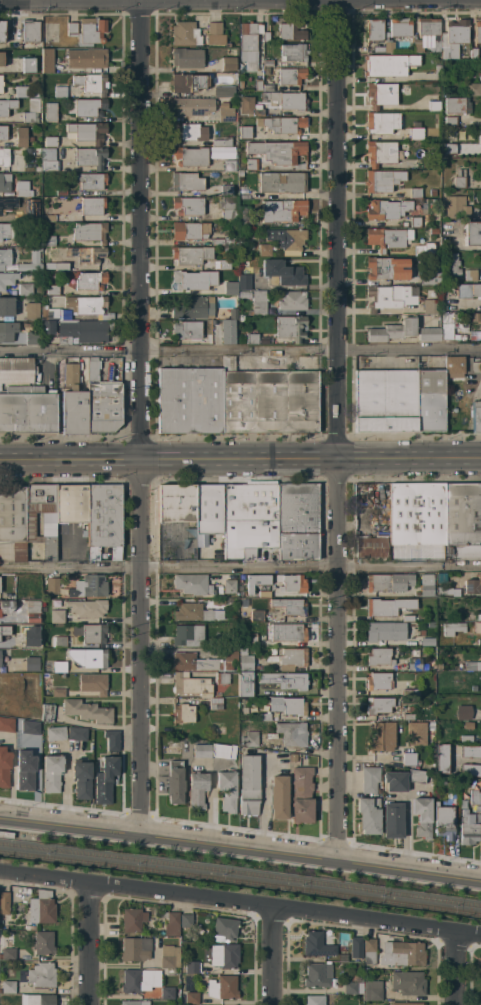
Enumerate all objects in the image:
road: (167, 0)
building: (400, 27)
building: (72, 29)
building: (374, 30)
building: (2, 31)
building: (31, 31)
building: (289, 31)
building: (431, 31)
building: (478, 31)
building: (91, 32)
building: (186, 33)
building: (216, 34)
building: (266, 35)
building: (13, 36)
building: (454, 37)
building: (249, 45)
building: (389, 47)
building: (417, 47)
building: (293, 52)
building: (87, 58)
building: (2, 59)
building: (187, 59)
building: (47, 61)
building: (229, 63)
building: (267, 63)
building: (28, 64)
building: (390, 64)
building: (438, 66)
building: (291, 75)
building: (44, 77)
building: (189, 82)
building: (1, 83)
building: (96, 83)
building: (259, 85)
building: (268, 88)
building: (473, 89)
building: (21, 91)
building: (60, 91)
building: (224, 91)
building: (381, 94)
building: (266, 96)
building: (290, 100)
building: (457, 105)
building: (7, 106)
building: (192, 106)
building: (250, 106)
building: (434, 106)
building: (87, 107)
building: (32, 111)
building: (51, 111)
building: (226, 114)
building: (451, 121)
building: (379, 123)
building: (283, 124)
building: (3, 132)
building: (86, 132)
building: (193, 132)
building: (245, 132)
building: (416, 133)
building: (21, 137)
building: (31, 138)
building: (51, 141)
building: (227, 141)
building: (218, 143)
building: (280, 152)
building: (467, 152)
building: (382, 153)
building: (191, 156)
building: (4, 157)
building: (90, 157)
building: (216, 159)
building: (49, 160)
building: (252, 164)
building: (229, 165)
building: (480, 170)
building: (241, 173)
building: (460, 179)
building: (90, 180)
building: (383, 180)
building: (186, 181)
building: (5, 182)
building: (282, 182)
building: (22, 188)
building: (227, 189)
building: (62, 192)
building: (433, 192)
building: (415, 193)
building: (21, 200)
building: (92, 205)
building: (188, 205)
building: (228, 207)
building: (457, 207)
building: (387, 209)
building: (282, 210)
building: (21, 215)
building: (244, 217)
building: (48, 218)
building: (415, 222)
building: (7, 230)
building: (190, 230)
building: (90, 231)
building: (435, 233)
building: (472, 233)
building: (385, 238)
building: (49, 240)
building: (287, 240)
building: (22, 241)
building: (221, 241)
building: (265, 249)
building: (423, 249)
building: (87, 254)
building: (190, 255)
building: (34, 256)
building: (4, 257)
building: (222, 264)
building: (451, 264)
building: (61, 266)
building: (23, 267)
building: (387, 268)
building: (284, 272)
building: (431, 275)
building: (470, 275)
building: (7, 279)
building: (91, 280)
building: (194, 280)
building: (243, 282)
building: (231, 288)
building: (25, 289)
building: (53, 290)
building: (468, 290)
building: (390, 297)
building: (293, 300)
building: (259, 302)
building: (87, 305)
building: (6, 306)
building: (431, 306)
building: (192, 307)
building: (32, 311)
building: (50, 313)
building: (59, 314)
building: (475, 317)
building: (290, 327)
building: (48, 328)
building: (187, 329)
building: (393, 330)
building: (7, 331)
building: (229, 331)
building: (447, 331)
building: (83, 332)
building: (475, 333)
building: (429, 334)
building: (32, 338)
building: (252, 339)
road: (240, 350)
building: (454, 369)
building: (270, 397)
building: (191, 400)
building: (386, 400)
building: (430, 400)
building: (24, 401)
building: (102, 401)
building: (73, 403)
road: (140, 416)
building: (476, 416)
road: (337, 429)
road: (240, 459)
building: (177, 503)
building: (209, 509)
building: (73, 513)
building: (417, 514)
building: (104, 515)
building: (43, 517)
building: (250, 518)
building: (463, 520)
building: (298, 521)
building: (13, 523)
building: (372, 546)
building: (412, 552)
road: (240, 567)
building: (255, 582)
building: (388, 582)
building: (191, 583)
building: (293, 583)
building: (91, 585)
building: (427, 585)
building: (472, 585)
building: (52, 586)
building: (230, 586)
building: (441, 590)
building: (264, 592)
building: (219, 601)
building: (6, 606)
building: (291, 606)
building: (383, 606)
building: (87, 608)
building: (33, 611)
building: (198, 612)
building: (256, 615)
building: (57, 616)
building: (471, 616)
building: (479, 617)
building: (408, 618)
building: (478, 627)
building: (453, 628)
building: (5, 630)
building: (379, 631)
building: (288, 632)
building: (94, 633)
building: (188, 635)
building: (31, 636)
building: (249, 639)
building: (60, 641)
building: (479, 642)
building: (235, 644)
building: (242, 651)
building: (480, 652)
building: (379, 656)
building: (88, 657)
building: (294, 657)
building: (203, 661)
building: (246, 662)
building: (32, 664)
building: (59, 664)
building: (418, 665)
building: (473, 665)
building: (222, 678)
building: (293, 680)
building: (379, 681)
building: (94, 683)
building: (243, 683)
building: (192, 685)
building: (58, 692)
building: (411, 692)
building: (264, 693)
building: (17, 699)
building: (216, 704)
building: (378, 705)
building: (294, 706)
building: (411, 709)
building: (87, 711)
building: (47, 712)
building: (464, 712)
building: (183, 713)
building: (264, 717)
building: (408, 717)
building: (7, 724)
building: (244, 725)
building: (468, 725)
building: (30, 726)
building: (56, 733)
building: (77, 733)
building: (290, 733)
building: (416, 733)
building: (381, 737)
building: (466, 738)
building: (251, 739)
building: (112, 740)
building: (202, 750)
building: (224, 751)
building: (470, 751)
building: (442, 758)
building: (409, 759)
building: (4, 767)
building: (25, 769)
building: (471, 769)
building: (52, 773)
building: (417, 777)
building: (81, 779)
building: (105, 779)
building: (370, 779)
building: (395, 781)
building: (175, 782)
building: (249, 785)
building: (455, 785)
building: (197, 789)
building: (227, 790)
building: (302, 795)
building: (278, 797)
building: (463, 797)
building: (475, 797)
building: (369, 815)
building: (422, 816)
building: (393, 820)
building: (444, 821)
building: (468, 832)
road: (240, 846)
railway: (240, 872)
railway: (240, 881)
building: (4, 902)
road: (240, 904)
building: (42, 908)
building: (133, 920)
building: (186, 920)
building: (171, 922)
building: (32, 928)
building: (225, 929)
building: (44, 942)
road: (91, 944)
building: (317, 944)
building: (356, 947)
building: (135, 949)
building: (370, 951)
building: (402, 953)
building: (8, 954)
building: (1, 955)
building: (170, 956)
building: (225, 956)
road: (272, 957)
building: (192, 967)
road: (455, 968)
building: (171, 972)
building: (42, 974)
building: (318, 975)
building: (140, 980)
building: (408, 982)
building: (8, 987)
building: (223, 987)
building: (352, 988)
building: (373, 990)
building: (169, 993)
building: (192, 998)
building: (37, 999)
building: (315, 1000)
building: (134, 1002)
building: (407, 1003)

